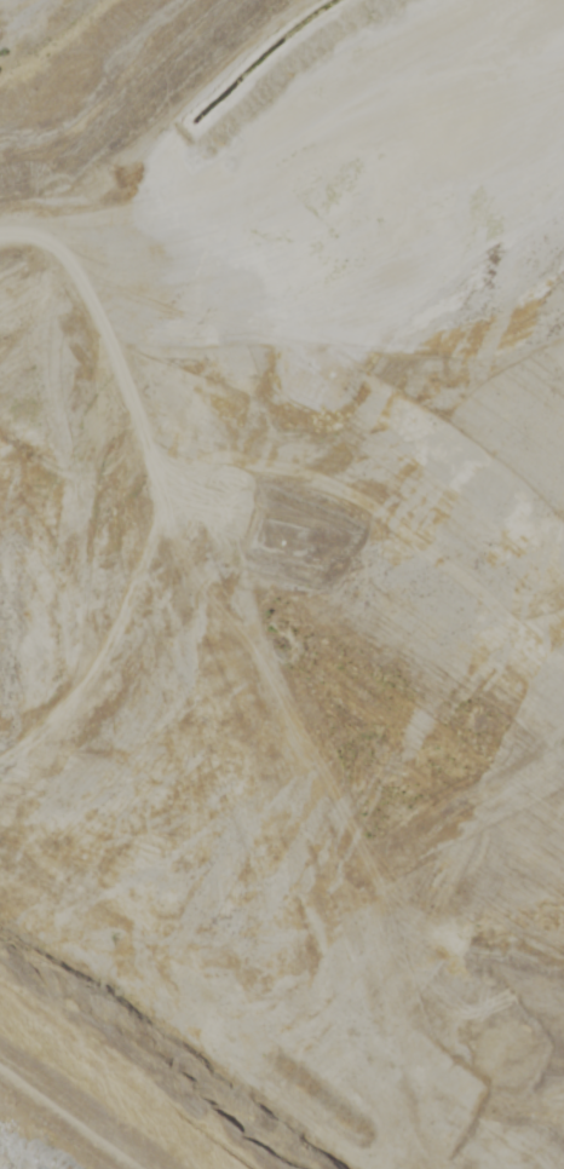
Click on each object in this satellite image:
road: (139, 119)

